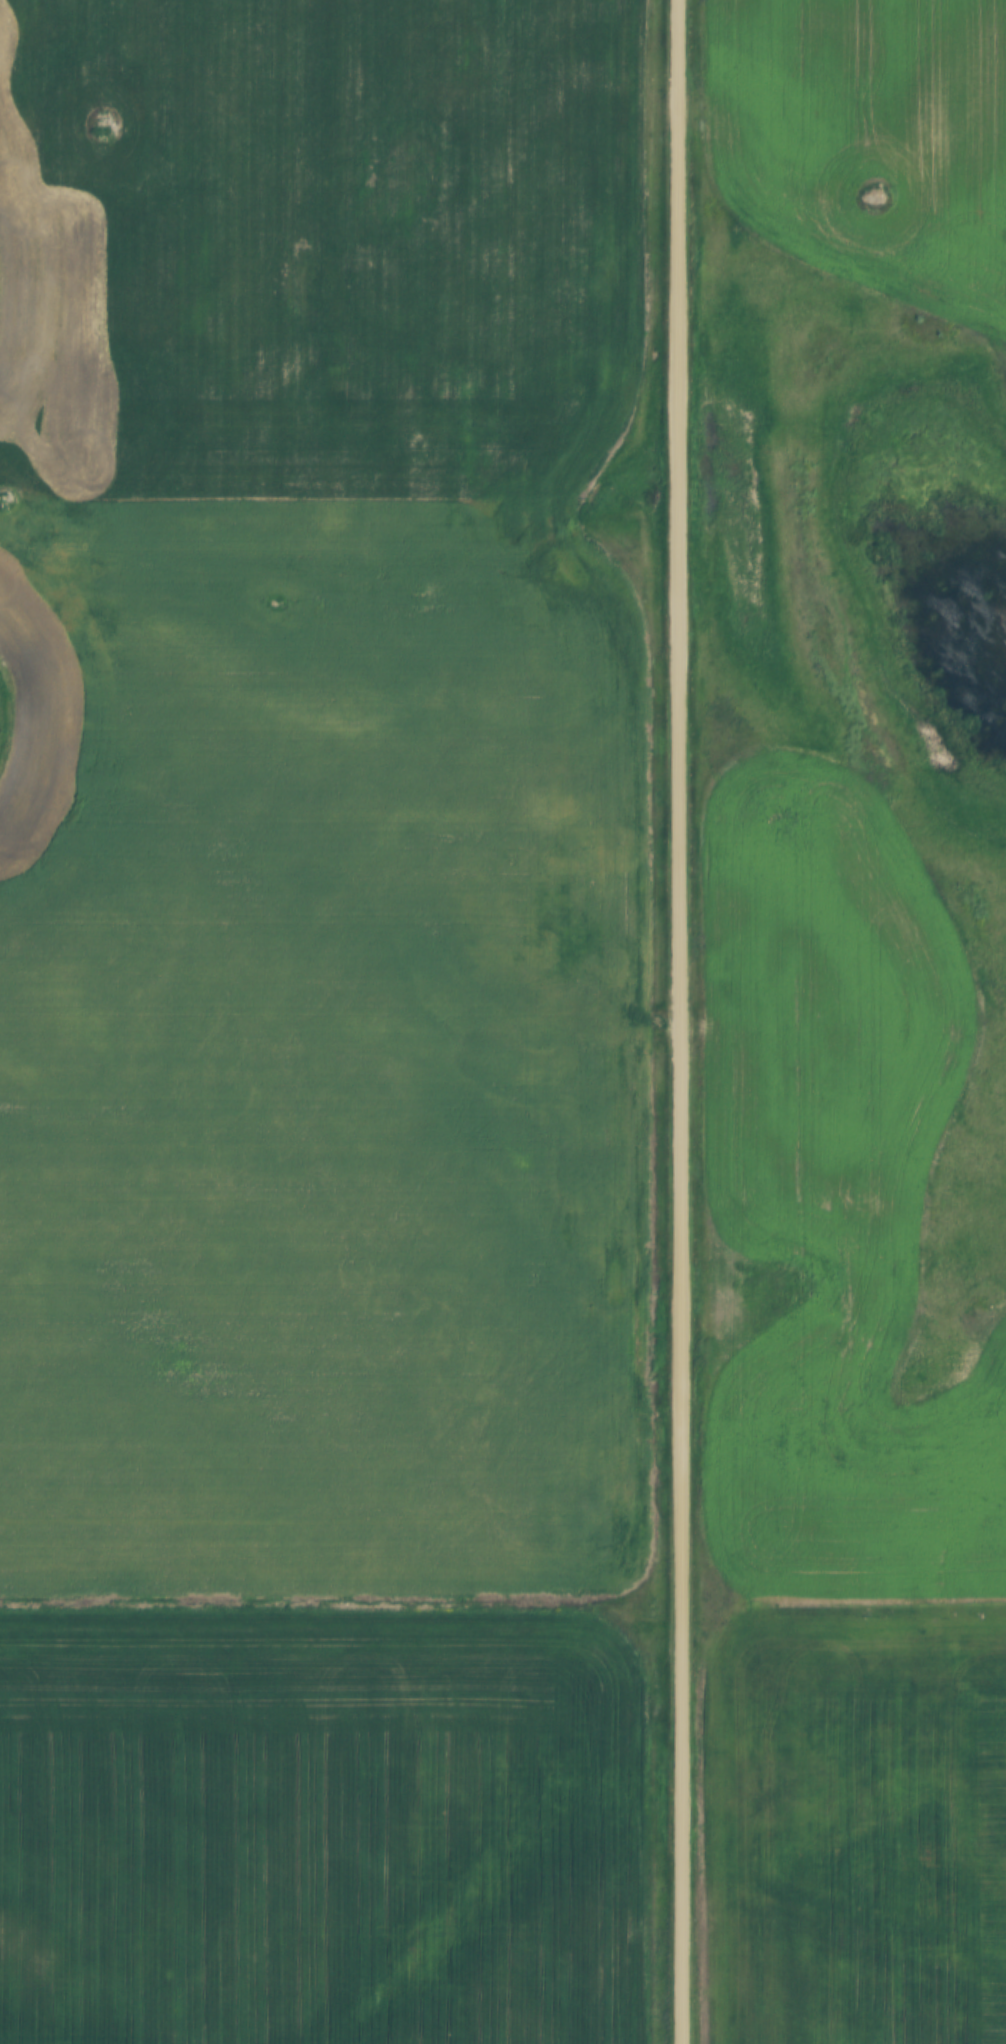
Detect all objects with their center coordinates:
road: (679, 1021)

